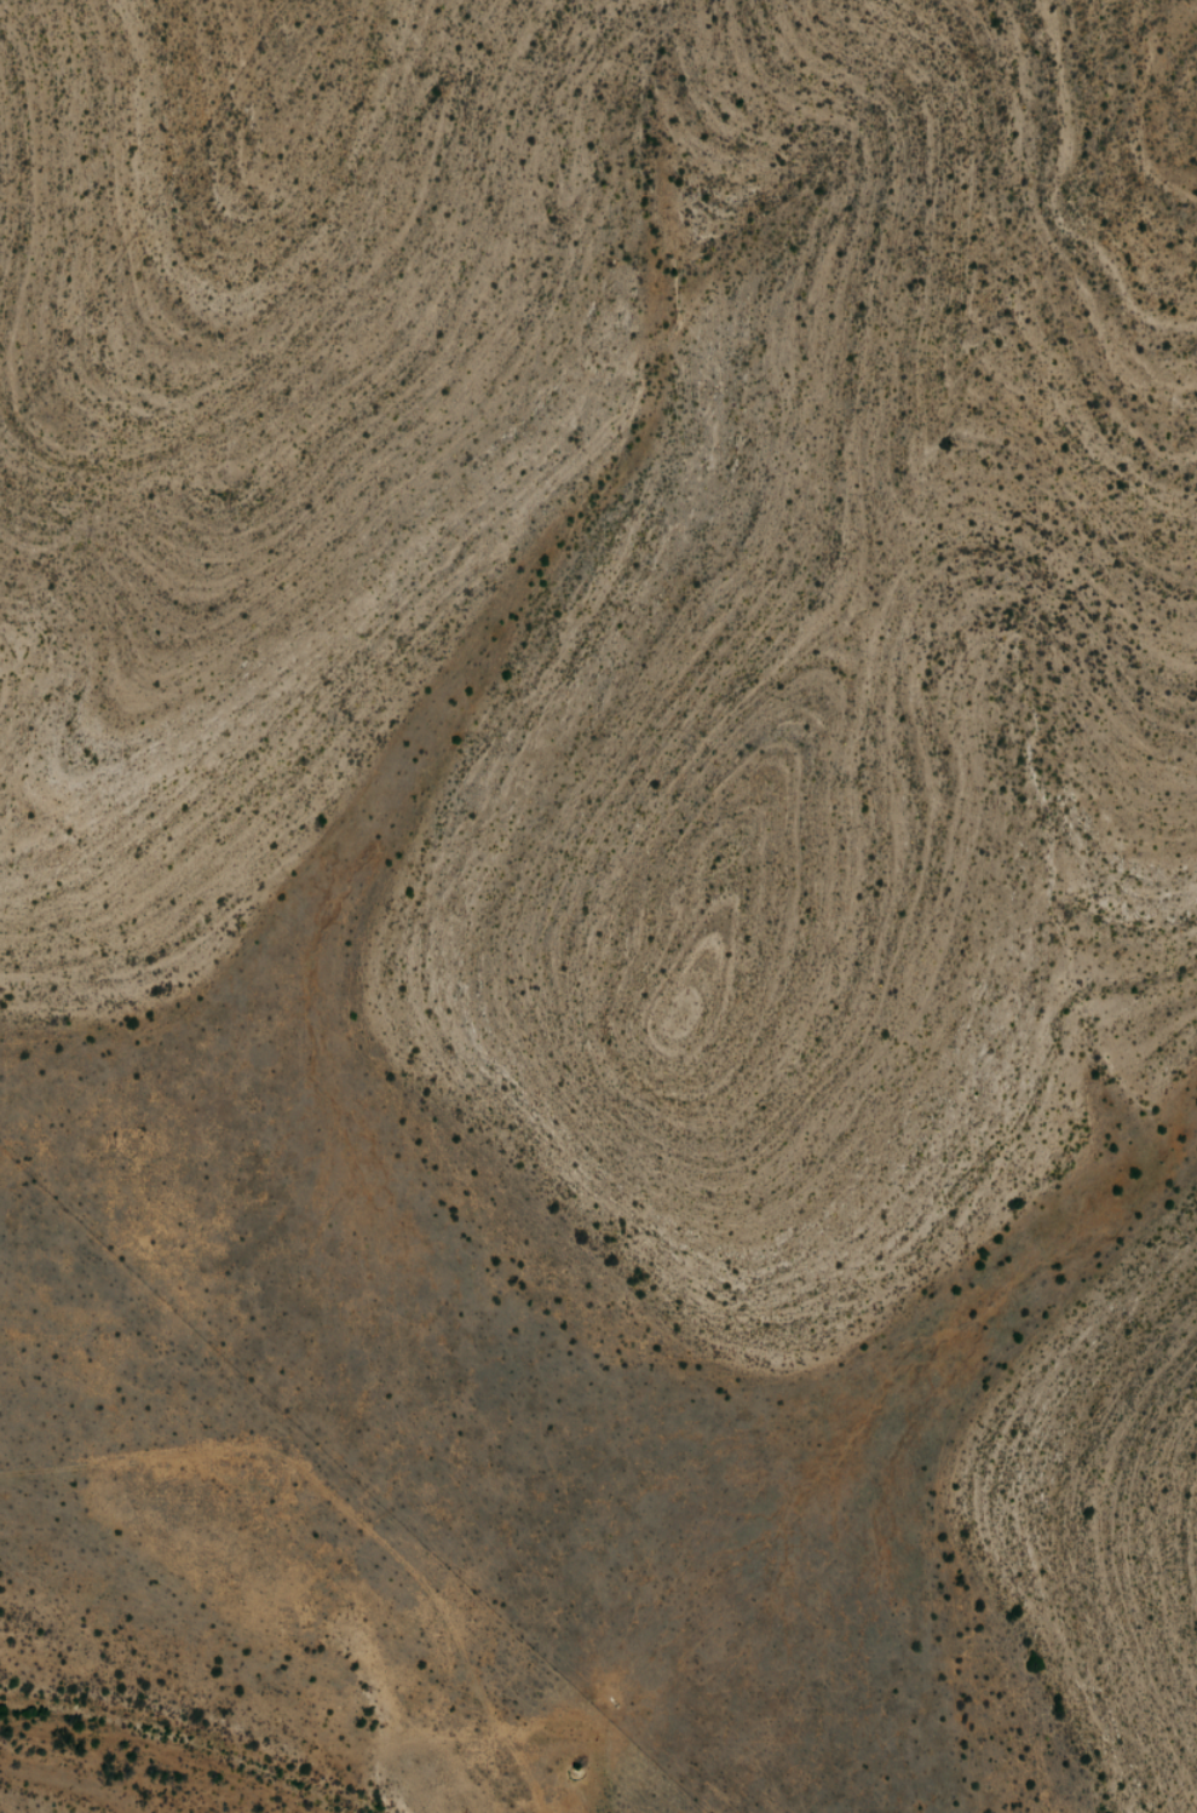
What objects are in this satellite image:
building: (577, 1766)
storage tank: (577, 1766)
road: (18, 1807)

